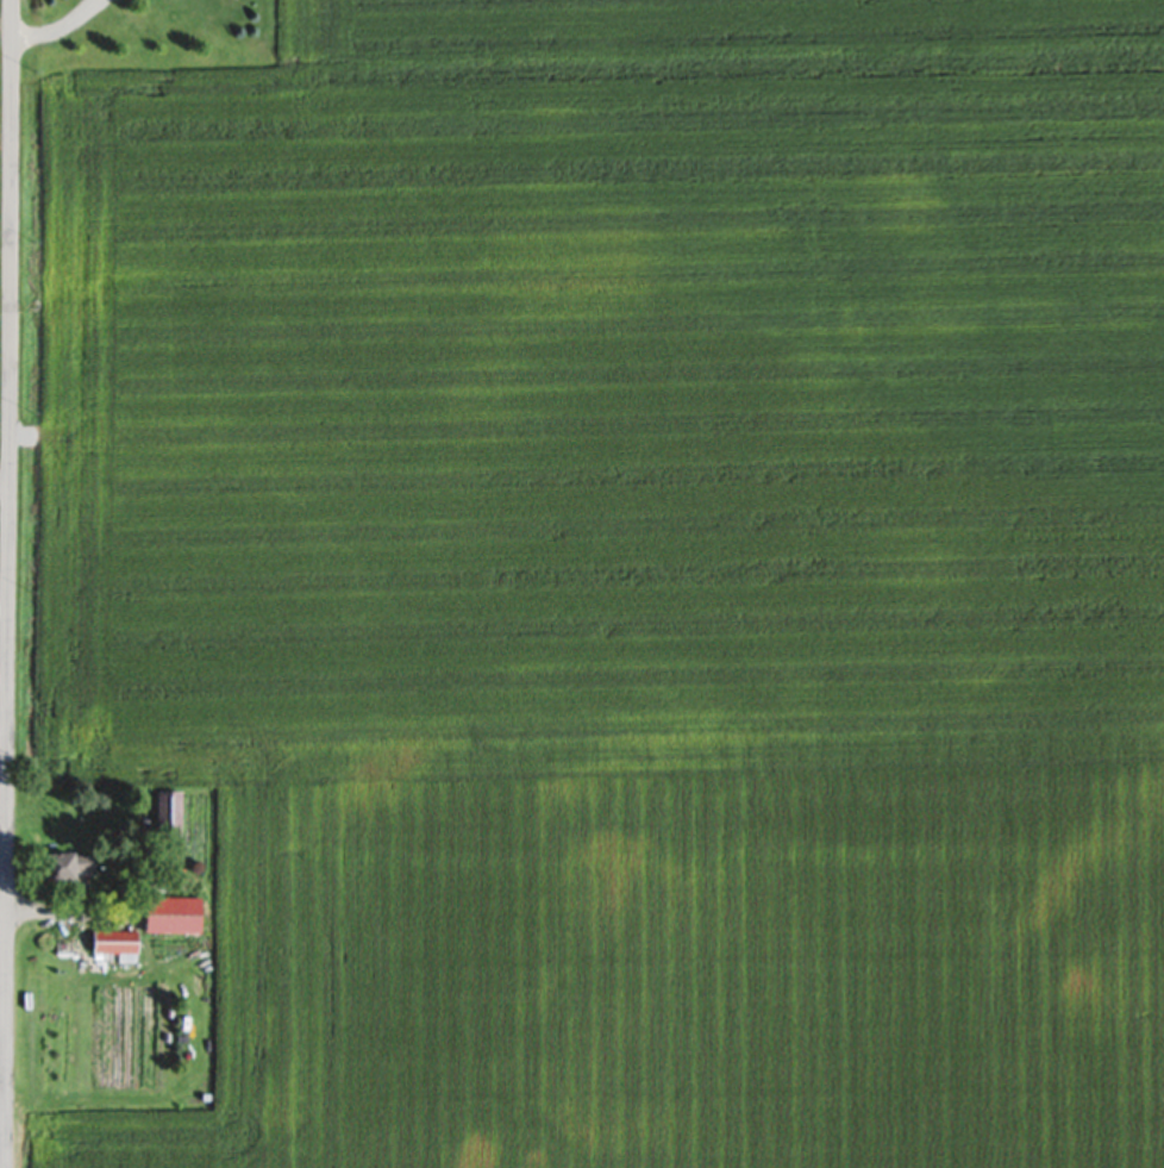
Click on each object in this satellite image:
road: (48, 26)
road: (4, 480)
road: (2, 580)
road: (5, 583)
building: (163, 822)
building: (64, 876)
road: (65, 911)
building: (168, 923)
building: (109, 949)

